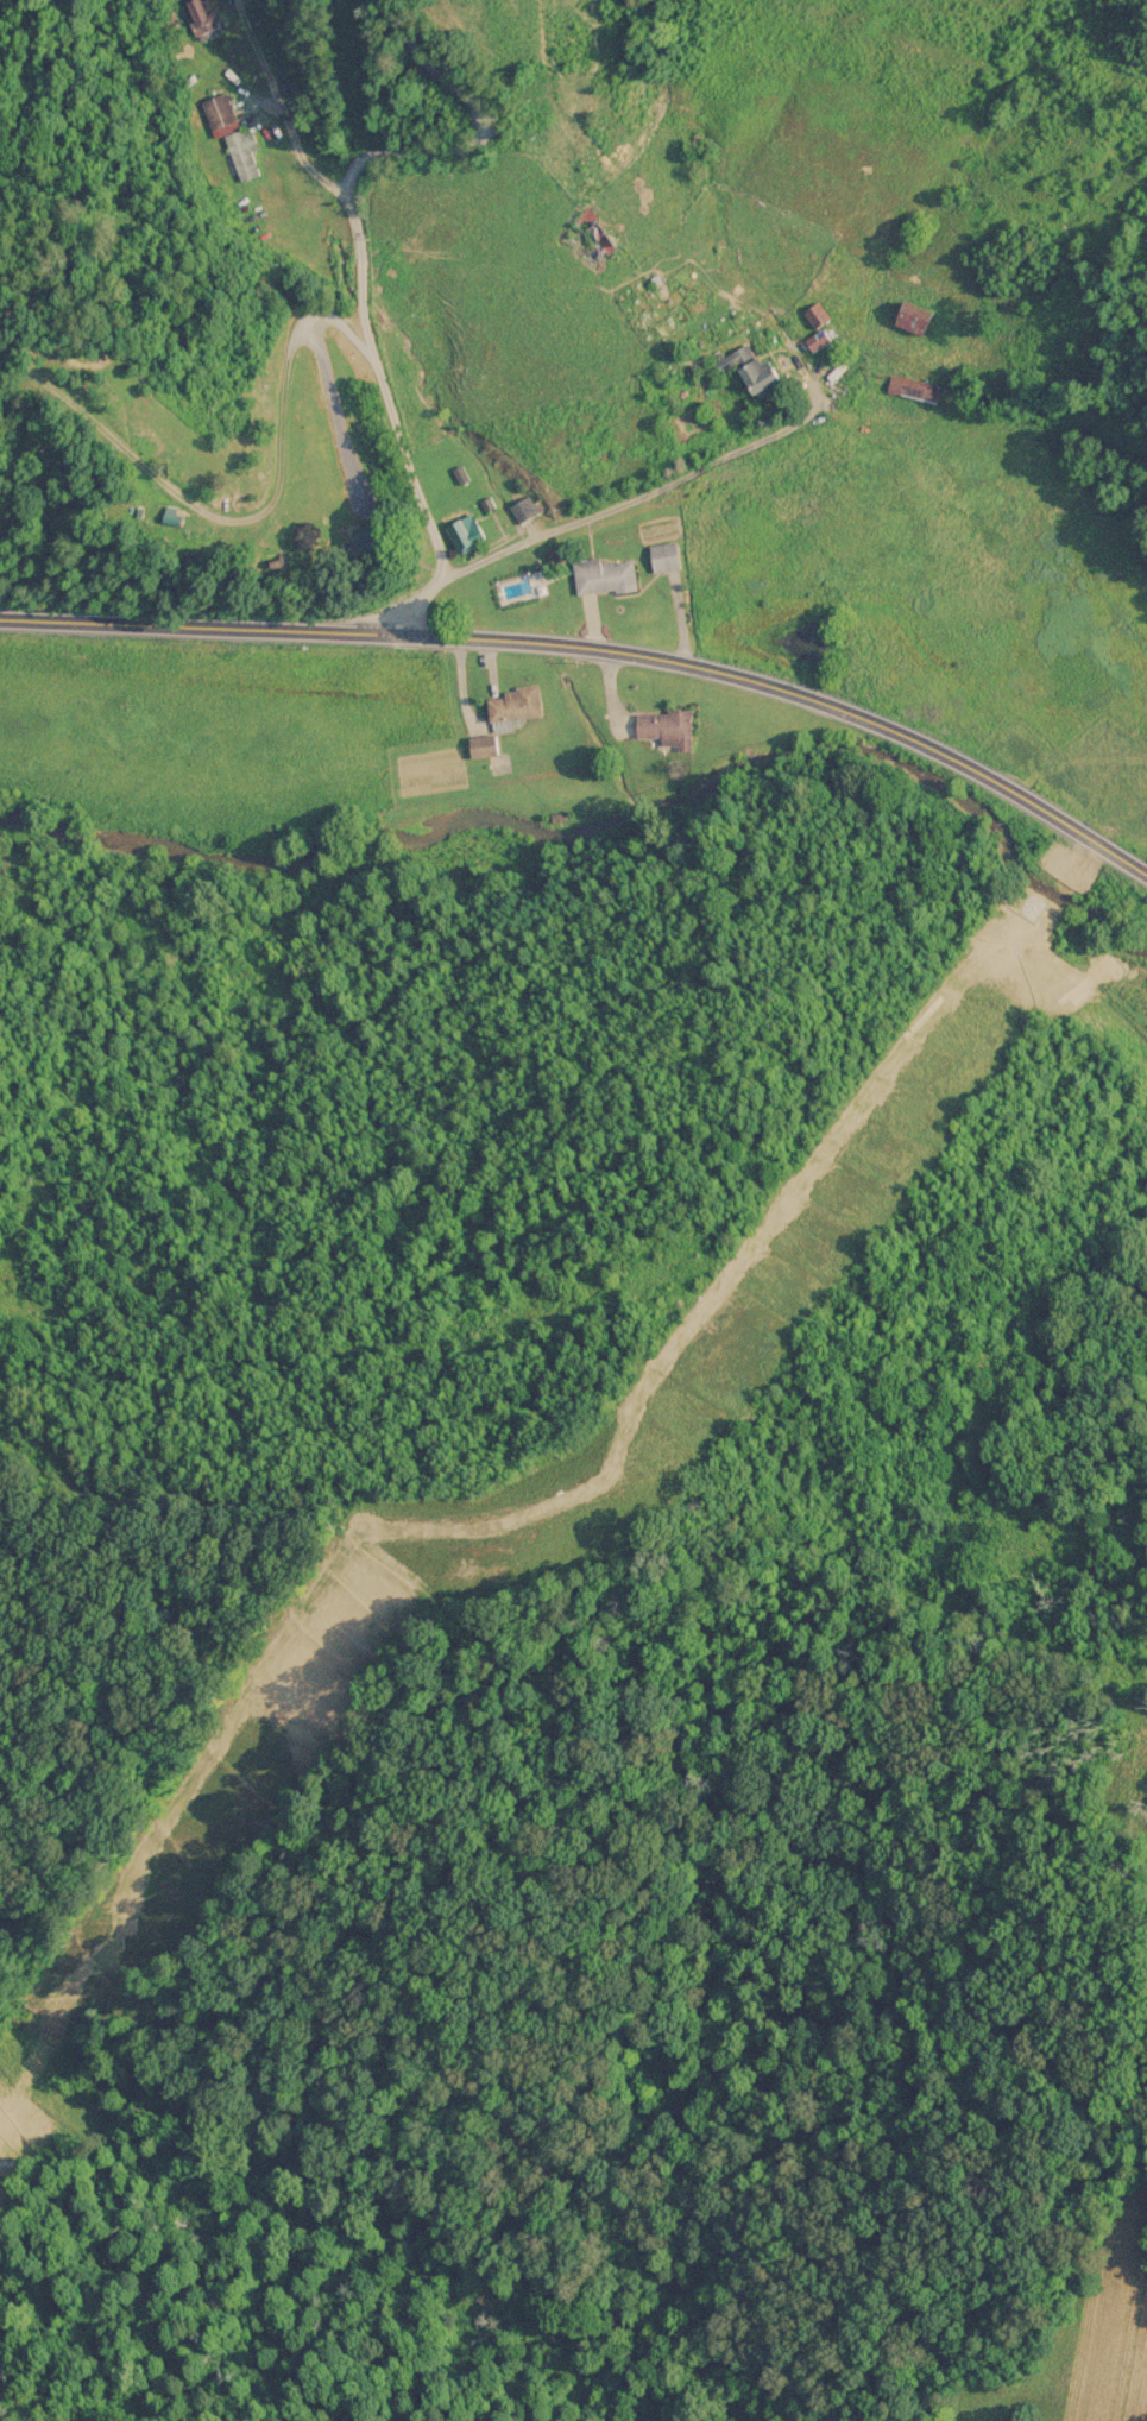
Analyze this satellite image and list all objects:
building: (197, 14)
building: (231, 138)
road: (347, 207)
building: (586, 234)
building: (813, 314)
building: (907, 316)
building: (745, 368)
building: (910, 386)
road: (628, 494)
building: (524, 506)
building: (462, 530)
building: (661, 555)
building: (600, 575)
road: (598, 650)
building: (511, 702)
building: (662, 726)
building: (480, 744)

